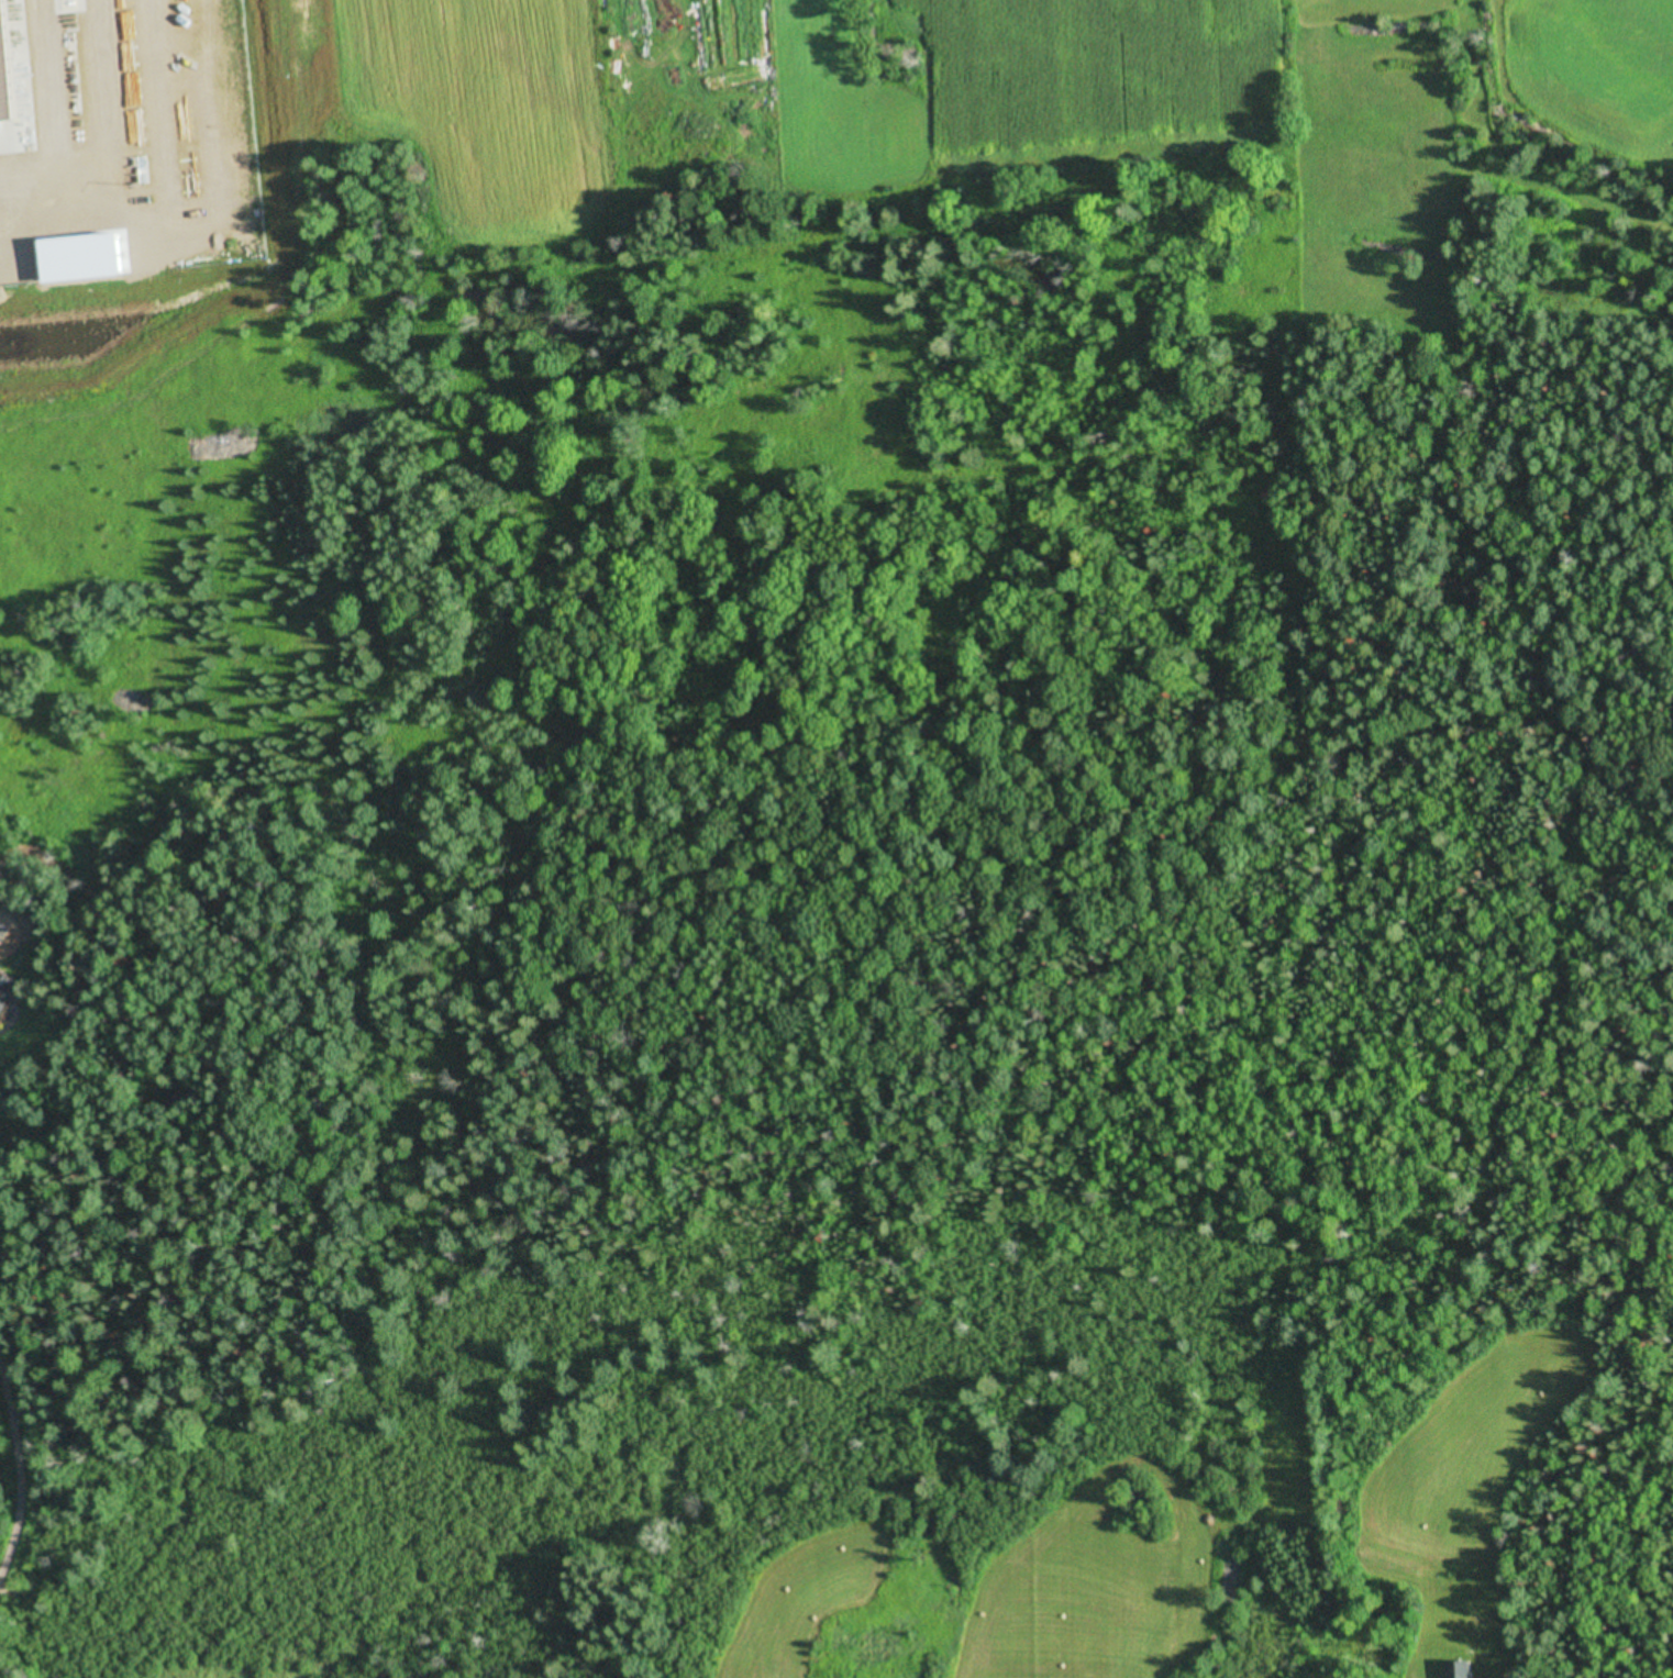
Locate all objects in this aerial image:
building: (9, 991)
building: (1454, 1669)

